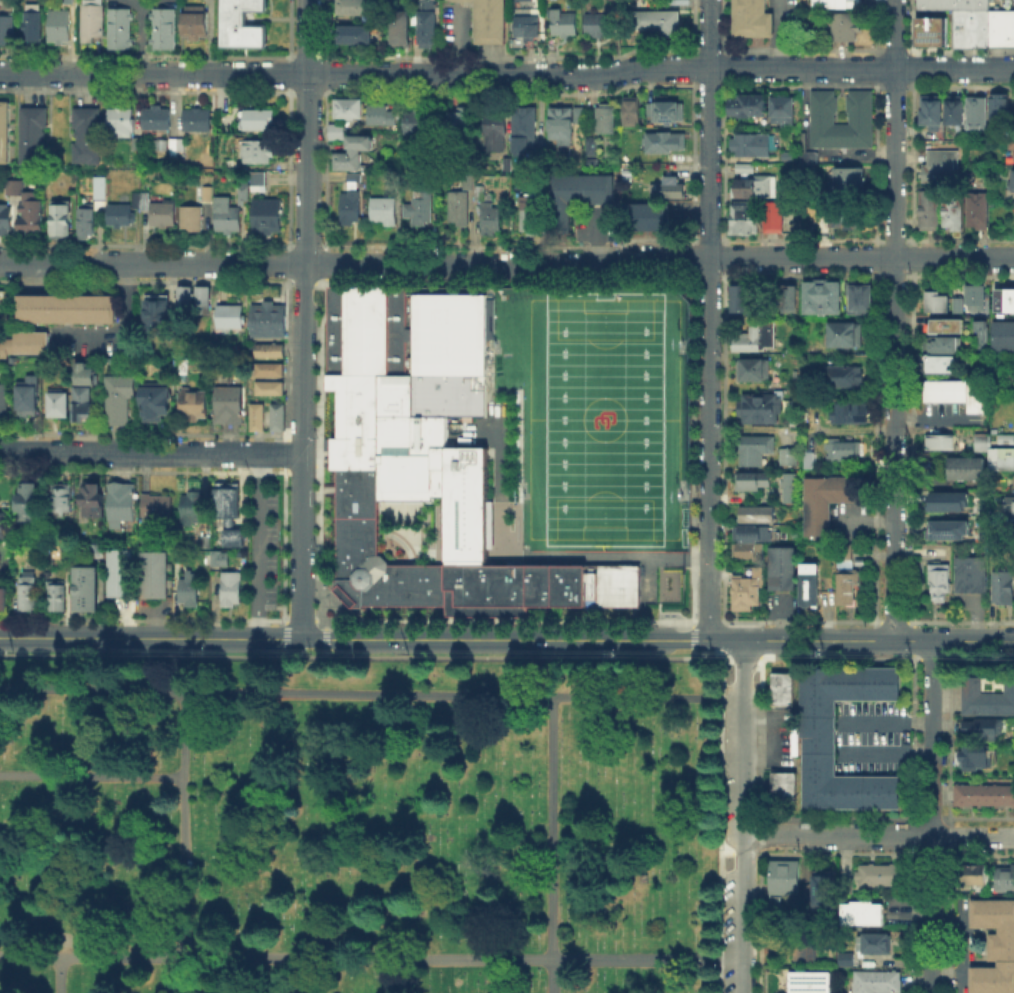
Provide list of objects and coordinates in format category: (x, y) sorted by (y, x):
building: (516, 0)
building: (835, 3)
building: (952, 3)
building: (354, 8)
building: (750, 17)
parking lot: (791, 17)
building: (89, 19)
building: (489, 19)
building: (192, 23)
building: (240, 23)
building: (430, 23)
building: (58, 24)
building: (565, 24)
building: (660, 24)
building: (32, 25)
building: (602, 26)
building: (843, 26)
building: (970, 26)
building: (1001, 26)
building: (118, 27)
building: (161, 27)
building: (530, 28)
building: (6, 29)
building: (930, 30)
building: (403, 32)
road: (778, 33)
building: (355, 35)
road: (507, 75)
building: (348, 106)
building: (821, 106)
building: (748, 108)
building: (1001, 110)
building: (780, 111)
building: (380, 113)
building: (633, 113)
building: (957, 114)
building: (669, 115)
building: (979, 116)
building: (154, 117)
building: (581, 117)
building: (195, 118)
building: (257, 118)
building: (933, 118)
building: (118, 120)
building: (607, 121)
building: (419, 124)
building: (526, 125)
building: (561, 128)
building: (3, 131)
building: (461, 131)
building: (497, 131)
building: (338, 133)
building: (31, 134)
building: (85, 134)
building: (134, 143)
building: (1011, 143)
building: (158, 145)
building: (174, 146)
building: (668, 146)
building: (592, 148)
building: (752, 148)
building: (255, 150)
building: (357, 153)
building: (807, 156)
building: (789, 157)
building: (229, 163)
building: (944, 166)
building: (256, 177)
building: (351, 178)
building: (1013, 179)
building: (358, 182)
building: (849, 182)
building: (470, 183)
building: (12, 186)
building: (769, 187)
building: (675, 188)
building: (585, 189)
building: (205, 192)
building: (744, 193)
building: (242, 194)
building: (99, 195)
building: (135, 199)
building: (143, 200)
building: (350, 209)
building: (421, 209)
building: (161, 211)
building: (459, 211)
building: (28, 212)
building: (384, 212)
building: (933, 212)
building: (955, 212)
building: (978, 212)
building: (117, 214)
building: (225, 214)
building: (264, 214)
building: (491, 215)
building: (58, 216)
building: (4, 217)
building: (189, 217)
building: (847, 218)
building: (745, 219)
building: (775, 219)
building: (652, 220)
building: (531, 221)
building: (84, 222)
road: (507, 264)
building: (0, 295)
building: (974, 296)
building: (790, 299)
building: (824, 299)
building: (861, 299)
building: (1003, 299)
building: (744, 301)
building: (934, 301)
building: (186, 302)
building: (206, 302)
building: (956, 304)
building: (67, 308)
building: (159, 315)
building: (235, 315)
road: (304, 318)
building: (271, 319)
road: (707, 319)
road: (893, 319)
building: (1, 320)
road: (125, 323)
building: (946, 325)
building: (980, 331)
building: (1003, 334)
building: (843, 337)
building: (751, 338)
building: (25, 342)
building: (944, 343)
building: (272, 351)
building: (940, 363)
building: (268, 368)
building: (755, 371)
building: (85, 373)
building: (845, 378)
building: (268, 386)
building: (956, 392)
building: (31, 398)
building: (4, 399)
building: (120, 400)
building: (82, 401)
building: (157, 404)
building: (231, 405)
building: (61, 406)
building: (196, 406)
building: (760, 410)
building: (256, 414)
building: (276, 415)
building: (851, 415)
park: (603, 418)
building: (1004, 437)
building: (979, 440)
building: (939, 441)
building: (756, 447)
building: (842, 450)
road: (150, 452)
building: (783, 455)
building: (790, 458)
building: (1000, 458)
building: (427, 461)
building: (812, 464)
building: (964, 467)
building: (752, 480)
building: (1013, 480)
building: (786, 487)
building: (792, 489)
building: (64, 500)
building: (949, 500)
building: (94, 502)
building: (829, 503)
building: (1008, 503)
building: (30, 505)
building: (123, 505)
building: (159, 506)
building: (193, 510)
building: (232, 515)
building: (757, 516)
building: (5, 527)
building: (947, 528)
building: (749, 534)
road: (266, 545)
building: (95, 548)
building: (747, 551)
building: (219, 558)
building: (783, 571)
building: (969, 573)
building: (121, 574)
building: (157, 574)
building: (847, 577)
building: (937, 580)
building: (1002, 584)
building: (86, 587)
building: (811, 587)
building: (234, 590)
building: (29, 592)
building: (748, 592)
building: (192, 594)
building: (59, 598)
building: (4, 601)
road: (149, 637)
road: (503, 637)
road: (723, 639)
road: (816, 639)
road: (912, 639)
road: (972, 640)
road: (951, 646)
road: (915, 647)
road: (692, 648)
road: (760, 648)
road: (918, 656)
road: (706, 657)
road: (931, 657)
road: (946, 658)
building: (781, 688)
road: (93, 690)
road: (328, 692)
building: (987, 694)
building: (982, 728)
building: (818, 737)
road: (950, 739)
road: (759, 740)
road: (916, 740)
building: (792, 742)
building: (975, 755)
building: (783, 788)
building: (983, 794)
road: (718, 804)
road: (740, 816)
road: (930, 816)
park: (369, 822)
park: (637, 825)
park: (360, 826)
road: (183, 833)
road: (835, 834)
road: (758, 835)
road: (972, 835)
road: (950, 837)
road: (916, 838)
building: (975, 874)
building: (881, 875)
building: (787, 877)
building: (1005, 880)
building: (827, 890)
building: (864, 915)
road: (551, 916)
road: (757, 920)
road: (950, 921)
road: (915, 922)
building: (874, 944)
building: (996, 947)
building: (807, 952)
road: (48, 954)
road: (628, 957)
building: (849, 961)
park: (297, 979)
building: (813, 983)
building: (878, 983)

